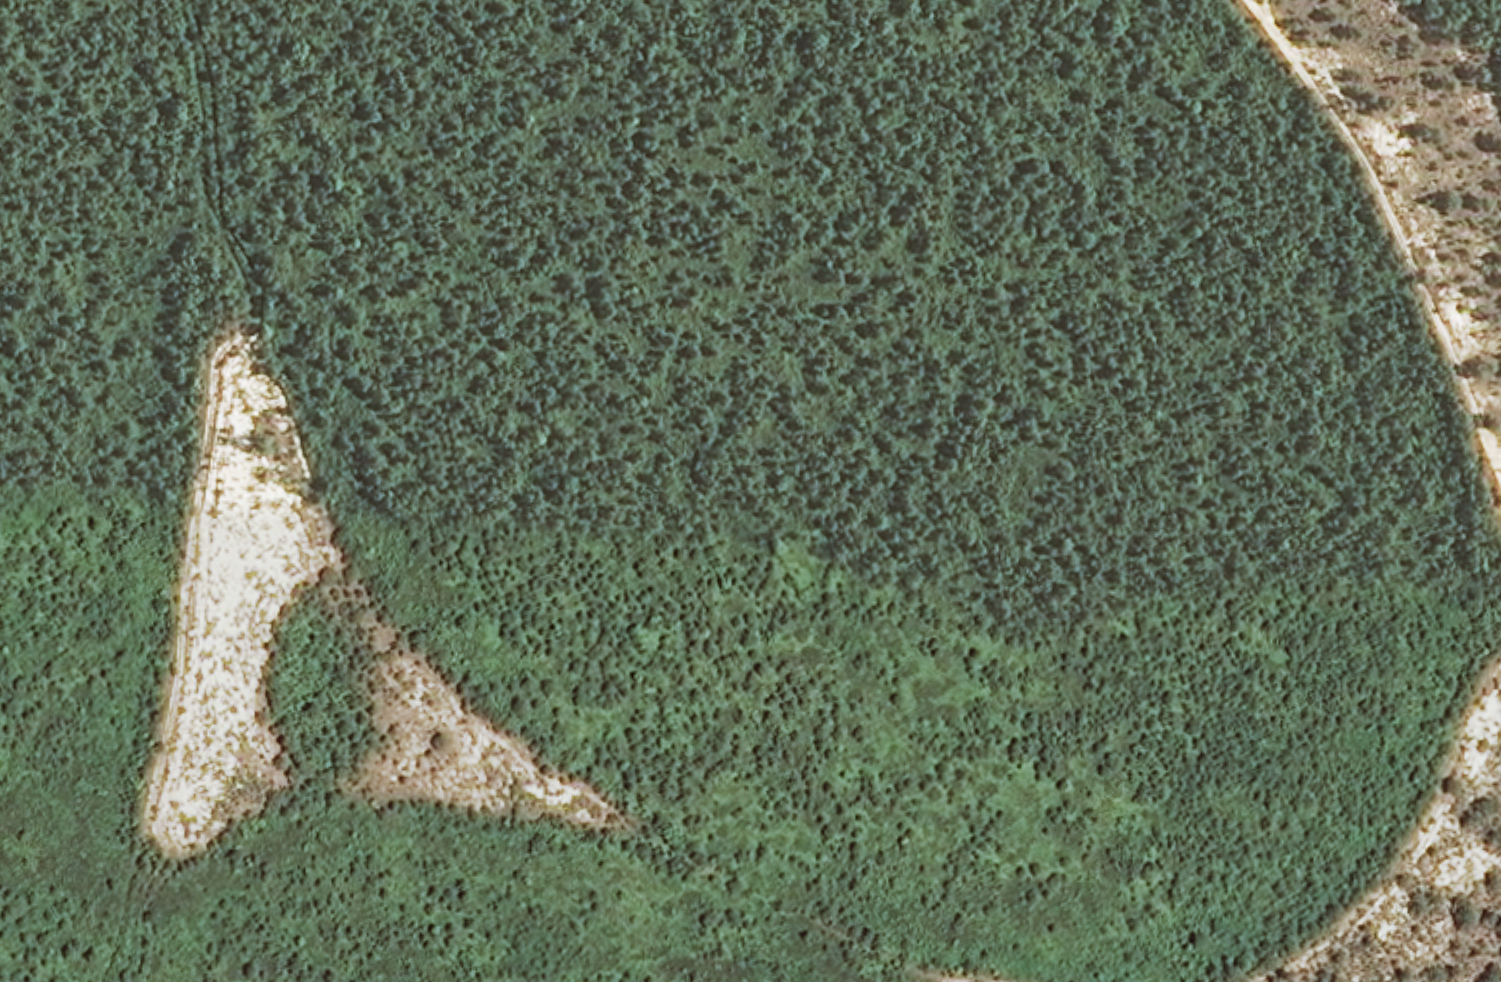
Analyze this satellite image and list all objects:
road: (1270, 10)
road: (1369, 123)

